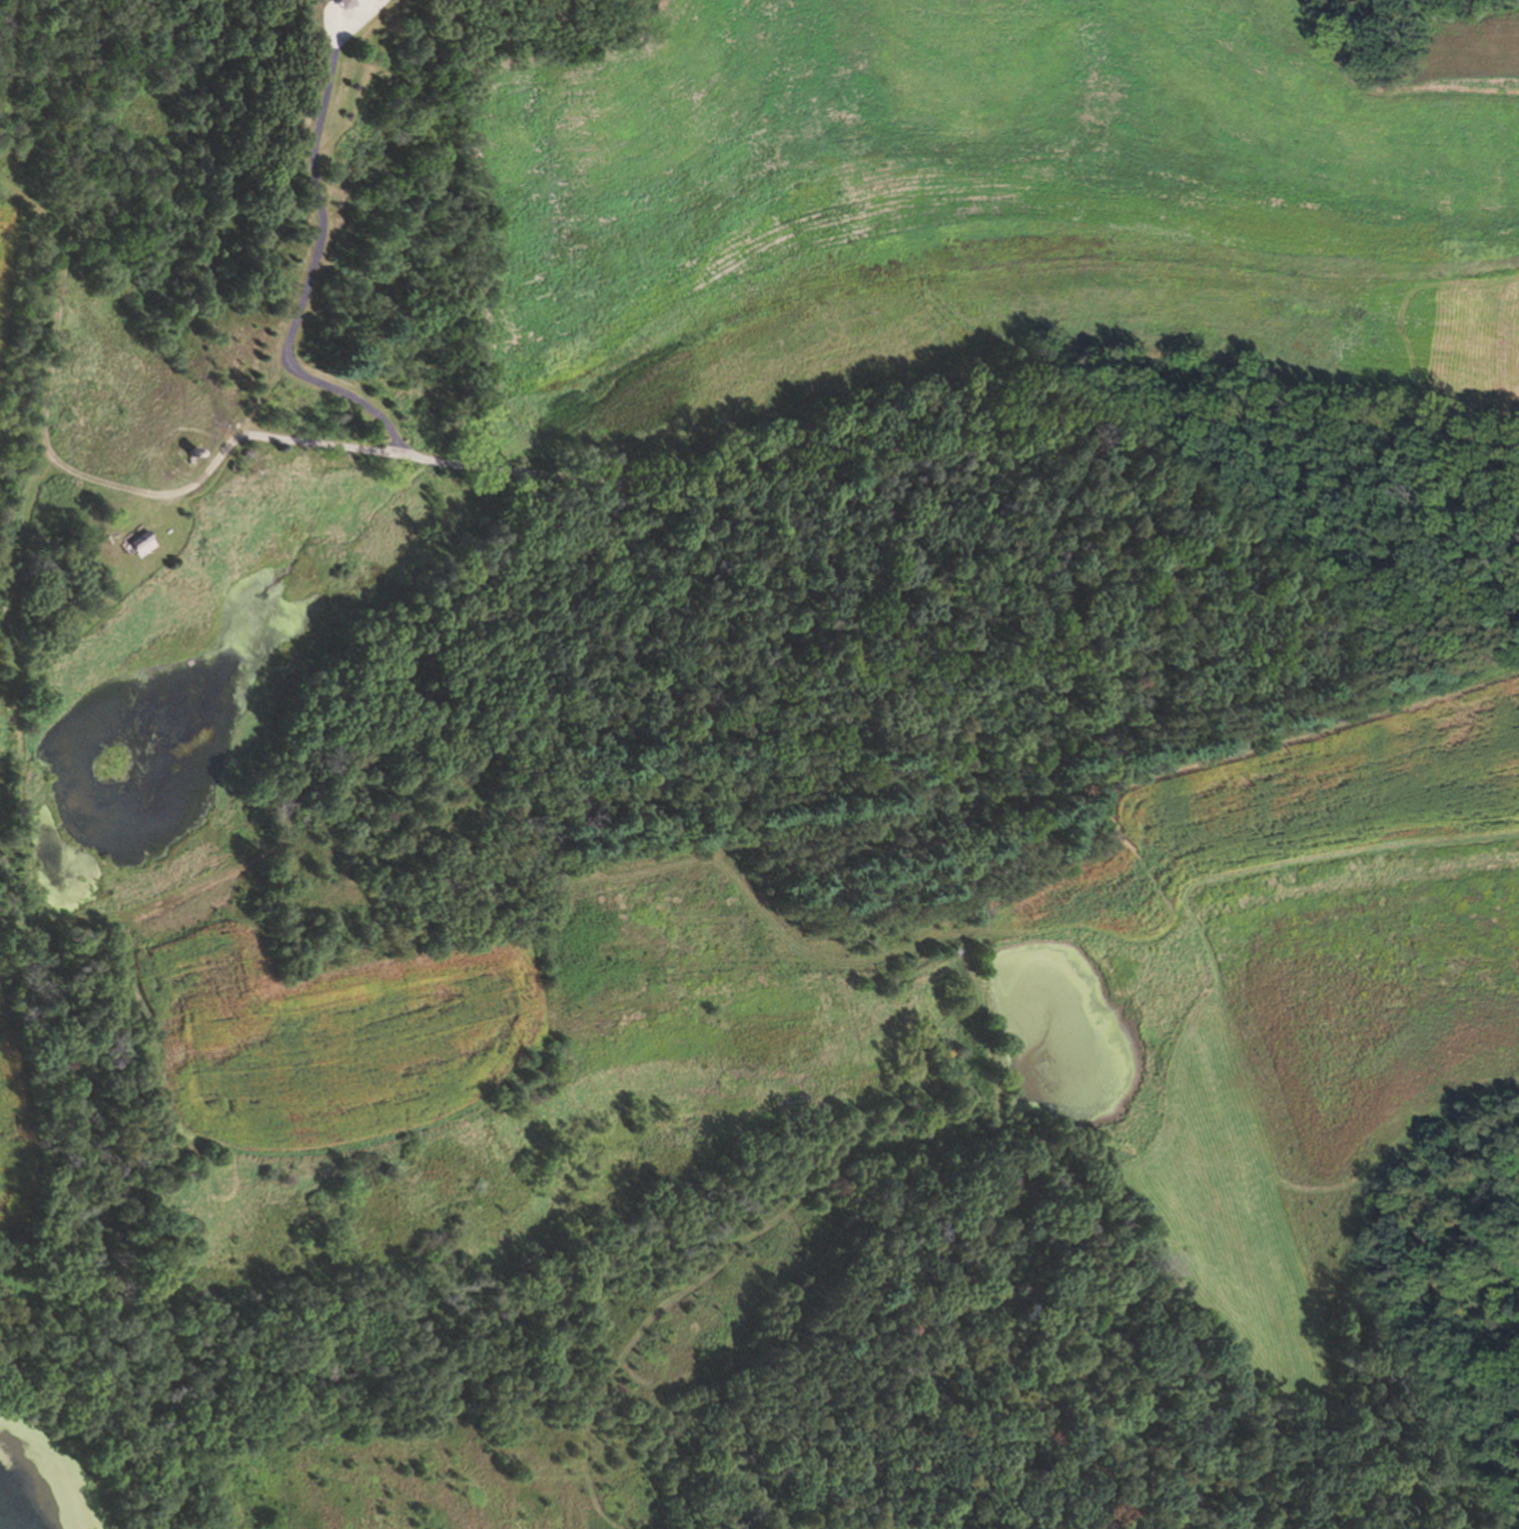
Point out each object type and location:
building: (337, 3)
road: (69, 221)
road: (313, 254)
road: (961, 441)
road: (212, 462)
building: (126, 536)
road: (17, 692)
road: (306, 747)

